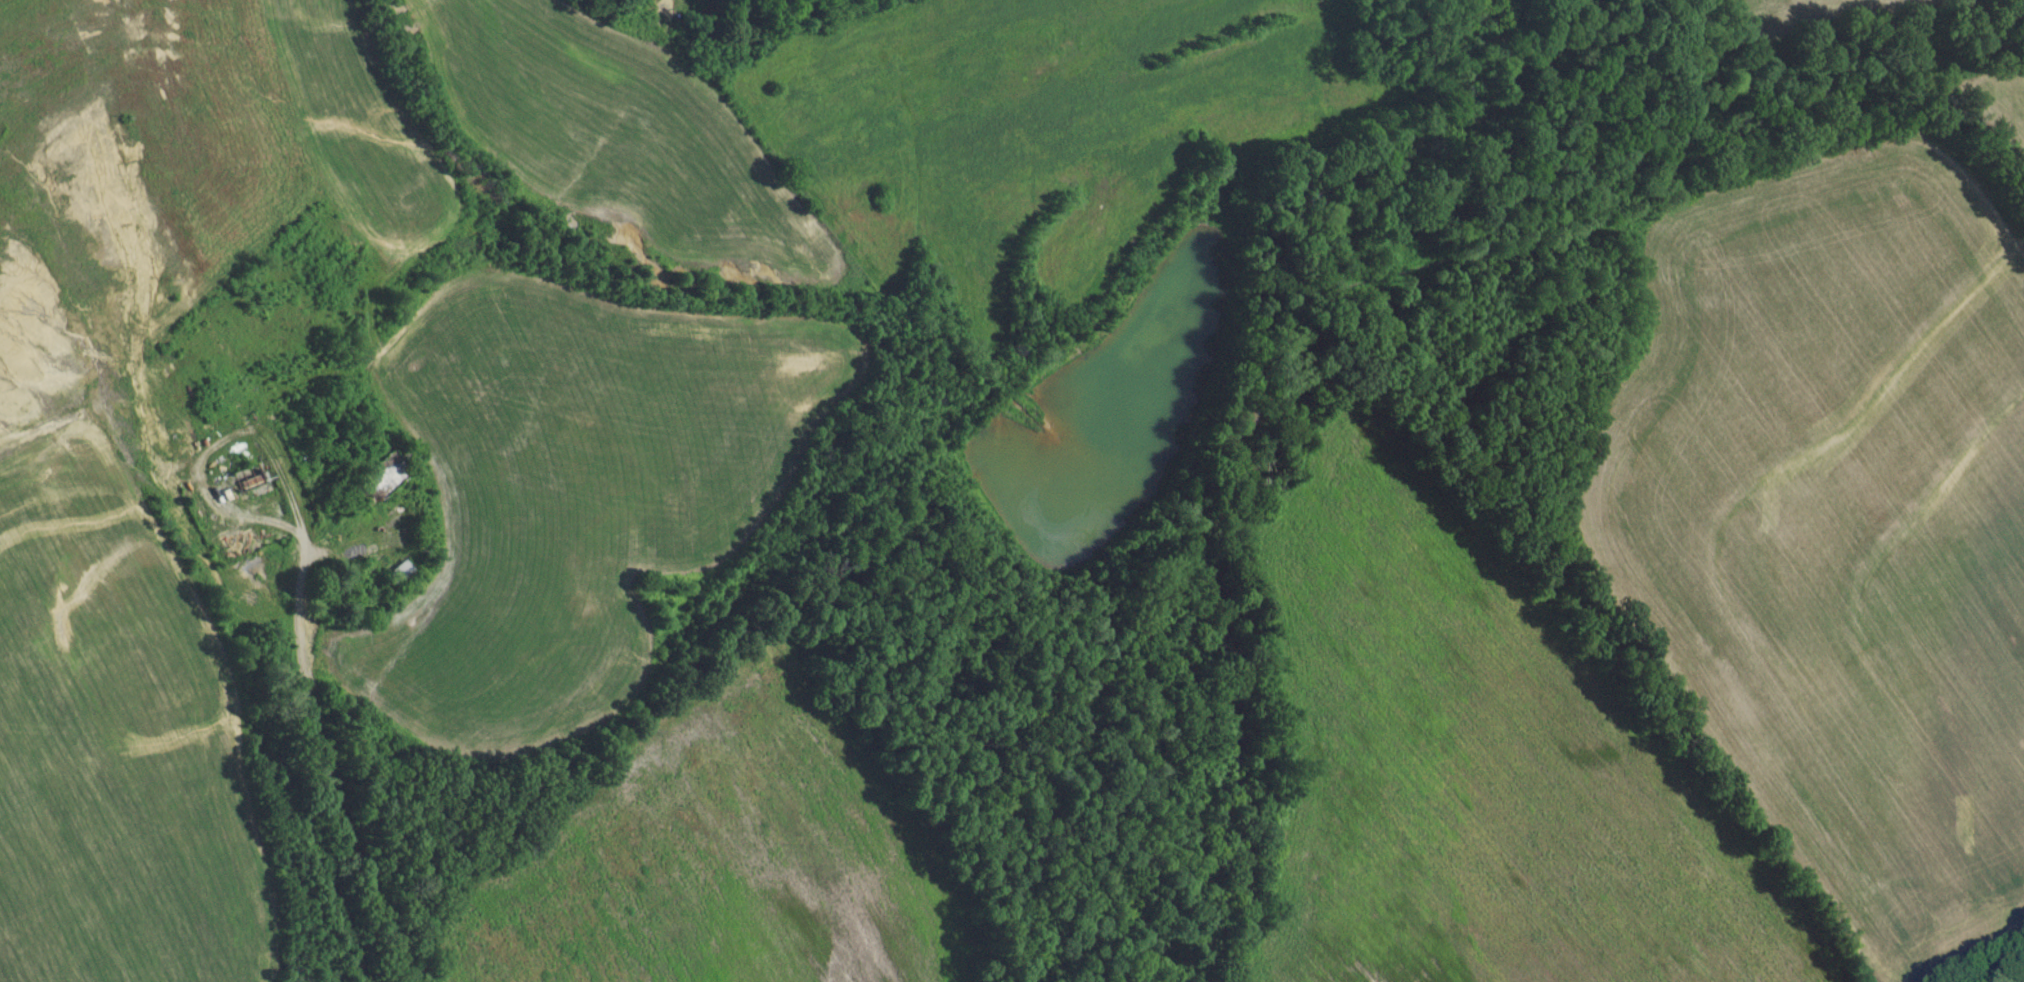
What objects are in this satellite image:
building: (381, 482)
building: (244, 484)
building: (400, 580)

